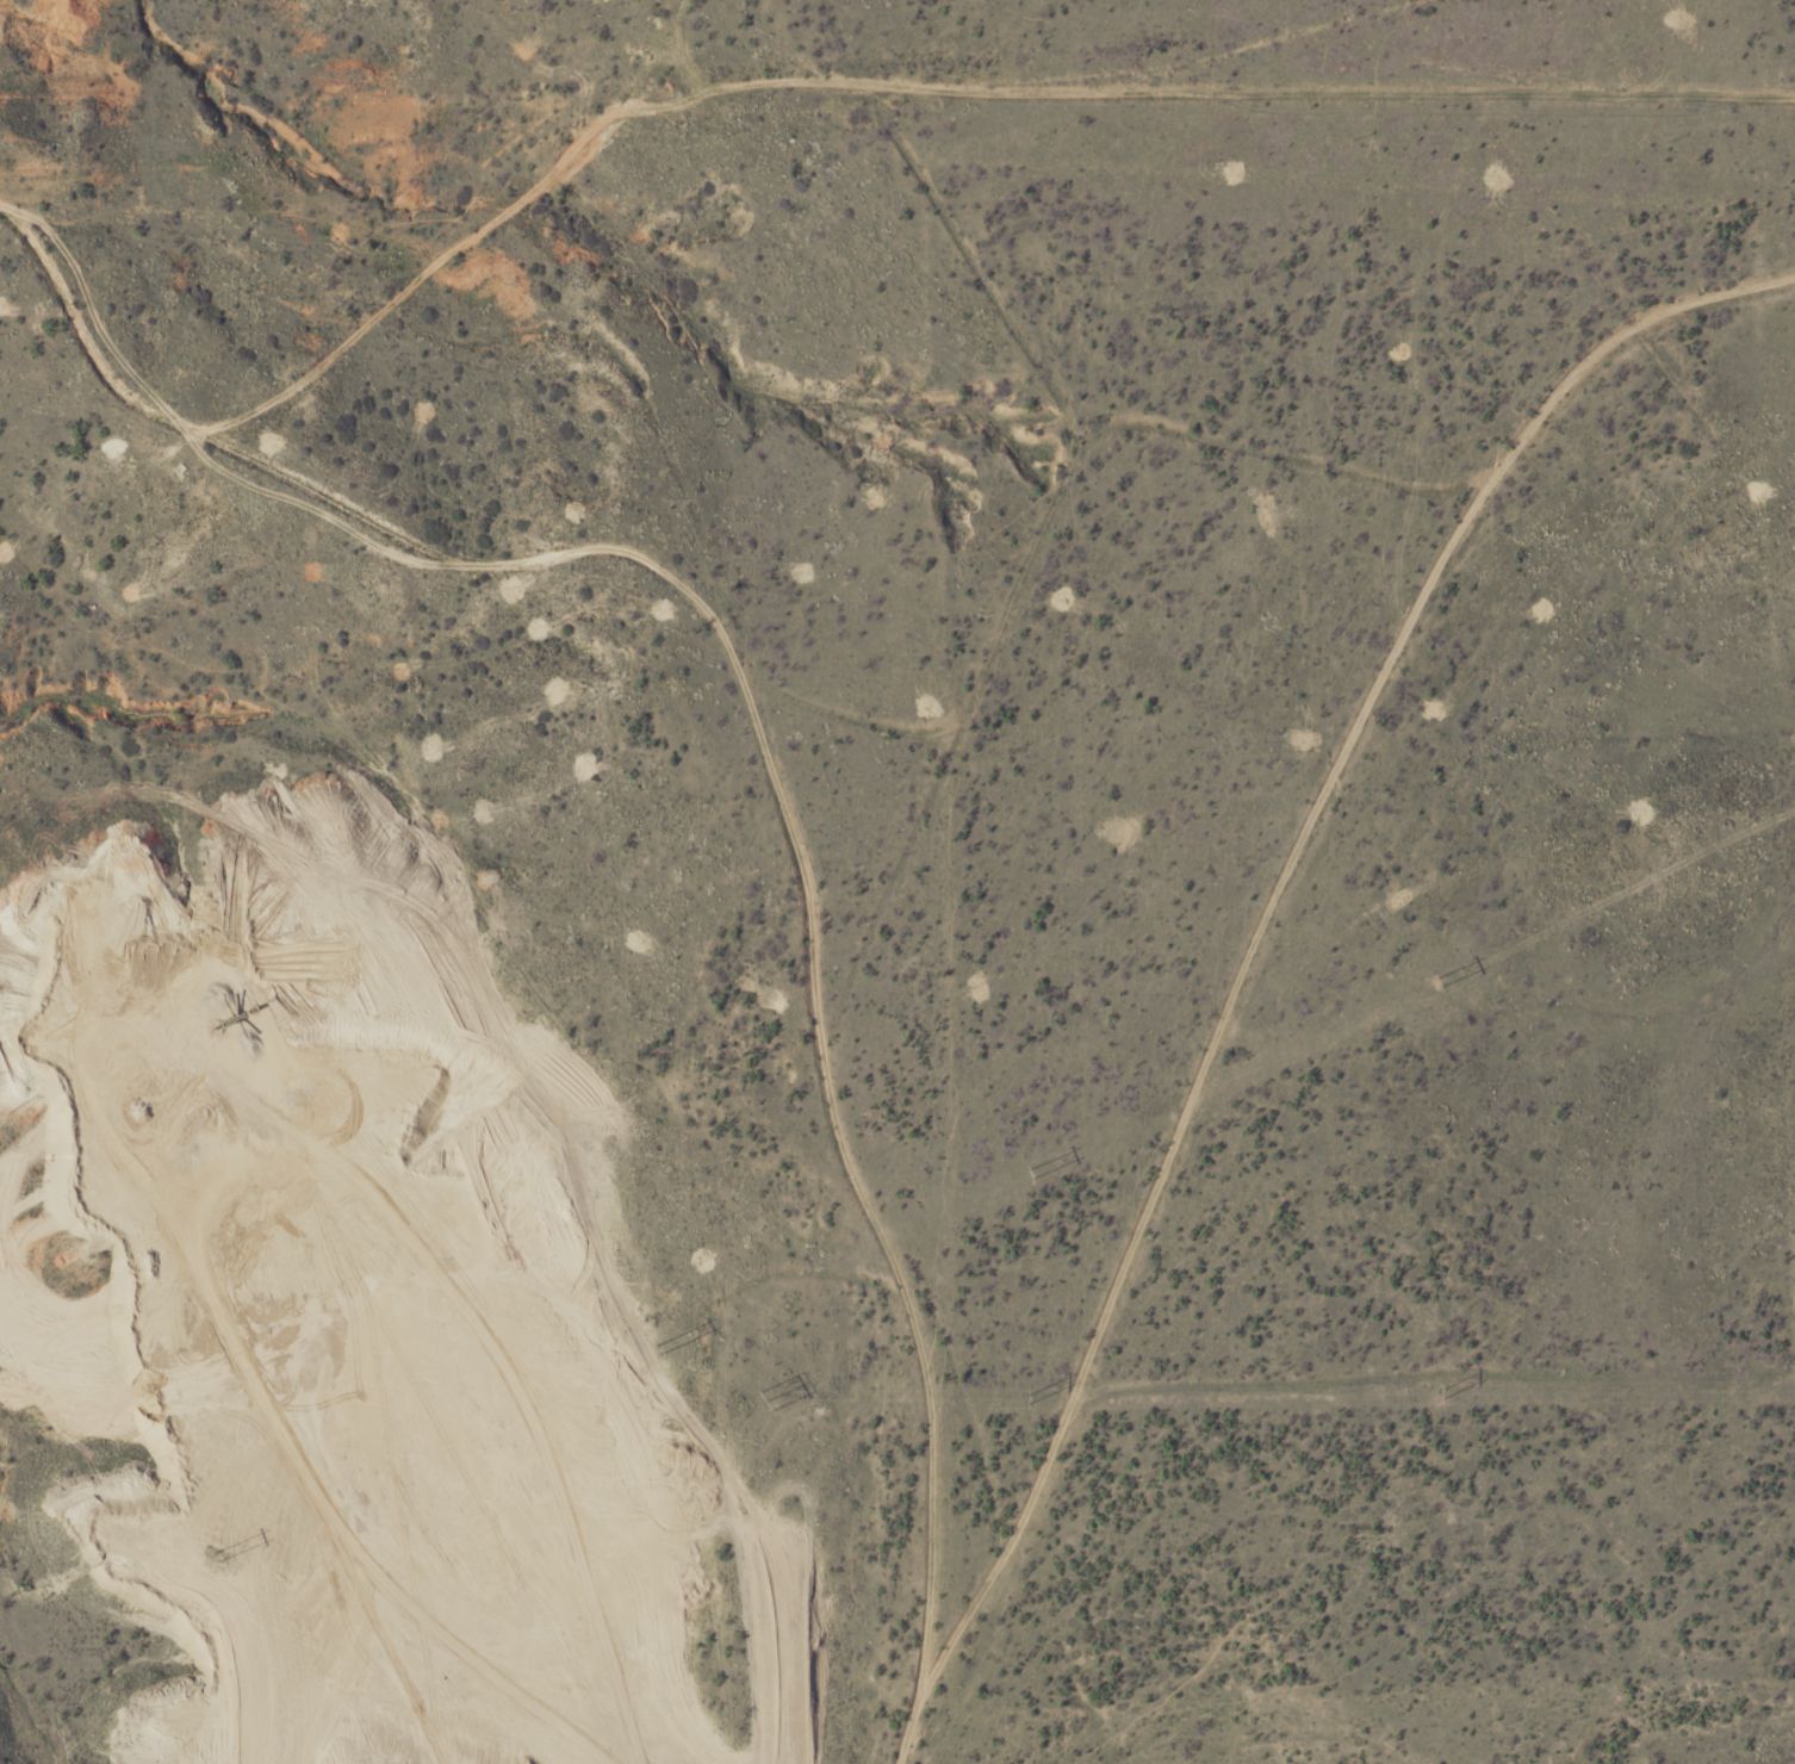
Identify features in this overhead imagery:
power tower: (1435, 983)
power tower: (1030, 1174)
power tower: (658, 1352)
power tower: (1439, 1393)
power tower: (1029, 1399)
power tower: (765, 1400)
power tower: (219, 1555)

